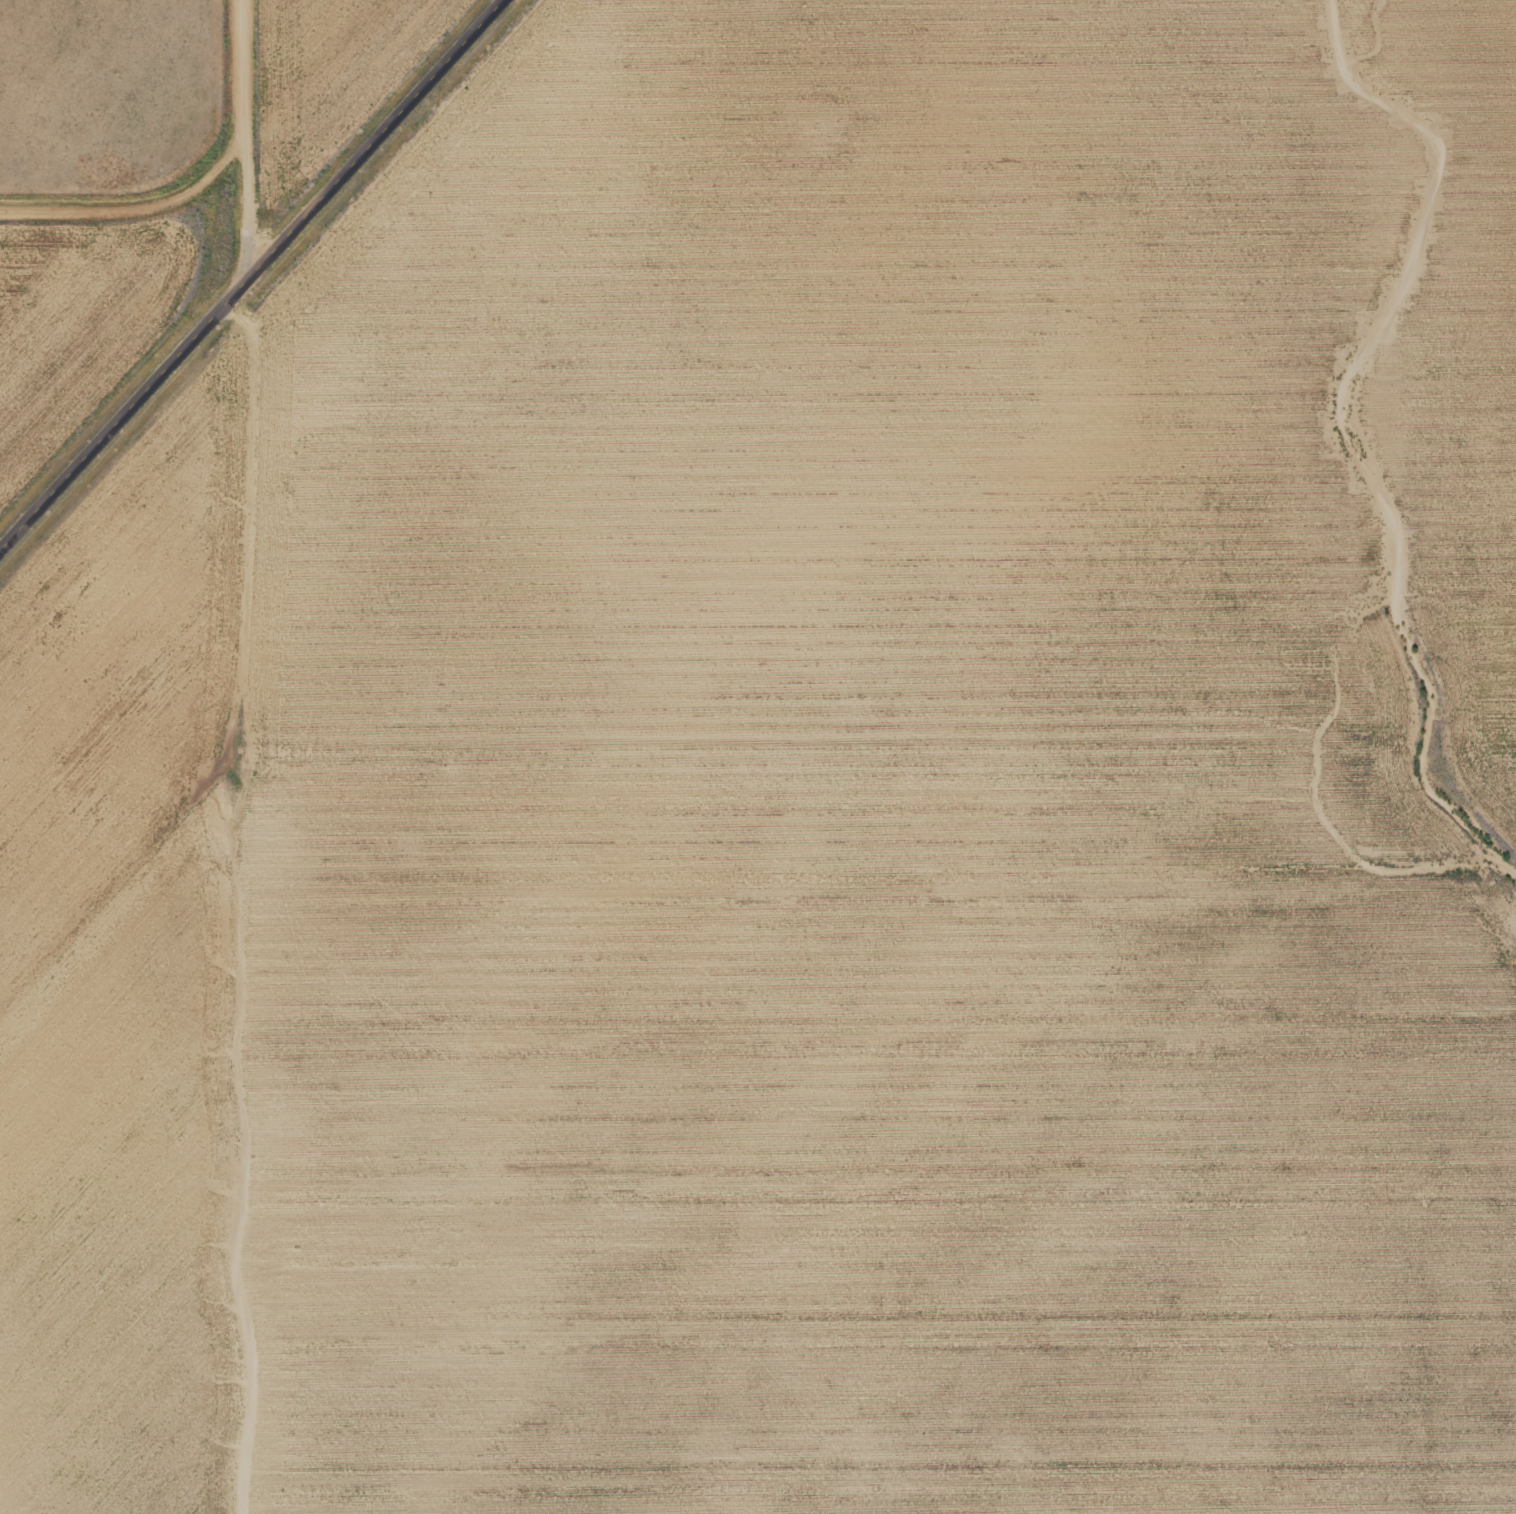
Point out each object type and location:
road: (199, 181)
road: (256, 196)
railway: (231, 252)
road: (255, 278)

